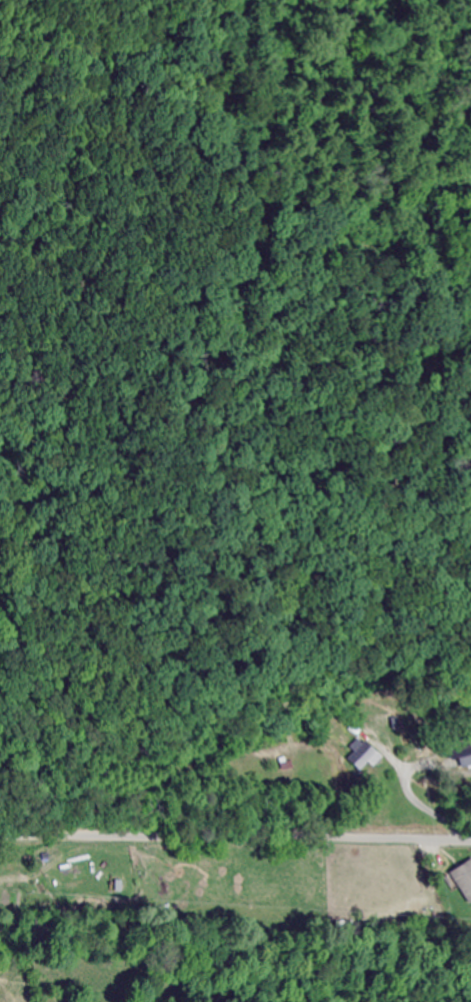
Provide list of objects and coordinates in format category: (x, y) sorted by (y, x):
building: (358, 757)
building: (461, 758)
road: (235, 835)
building: (462, 879)

